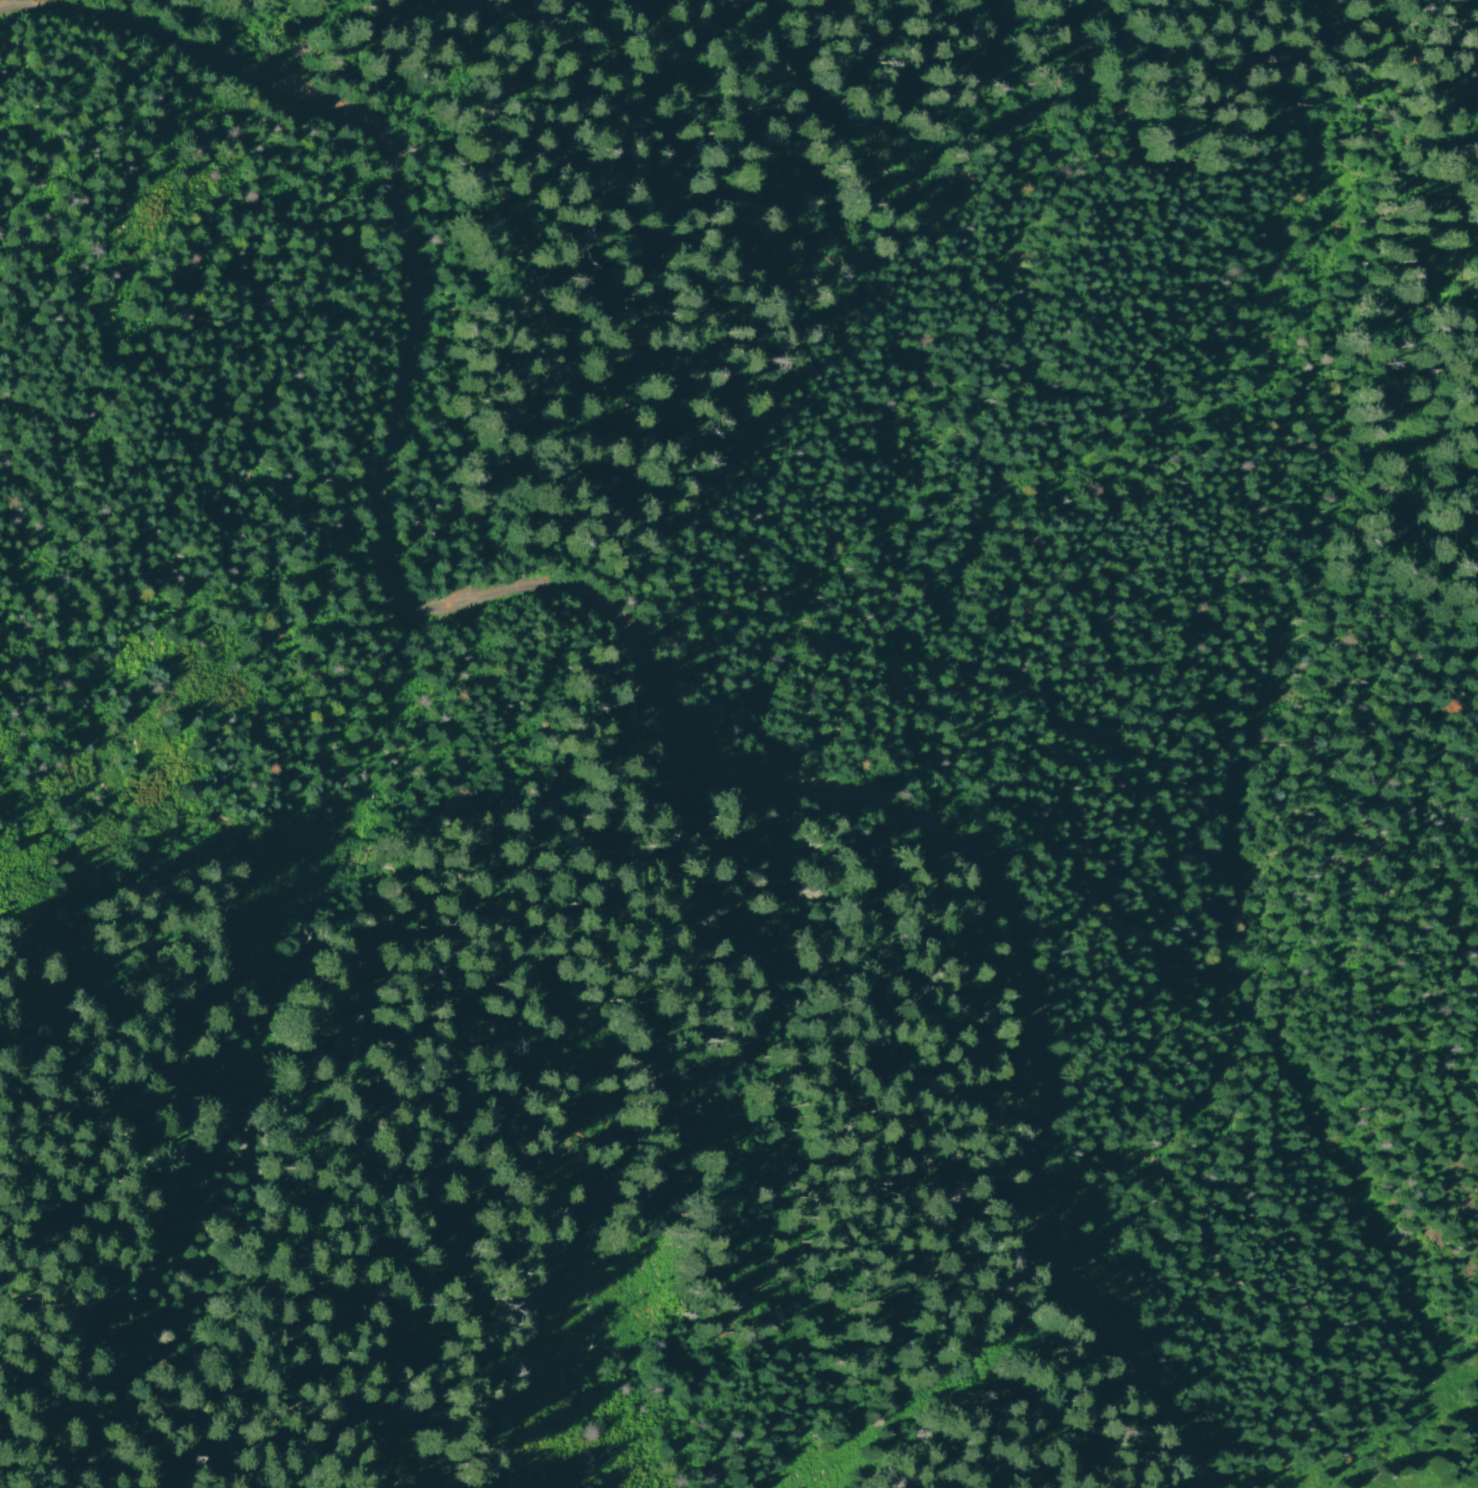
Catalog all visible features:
road: (627, 629)

